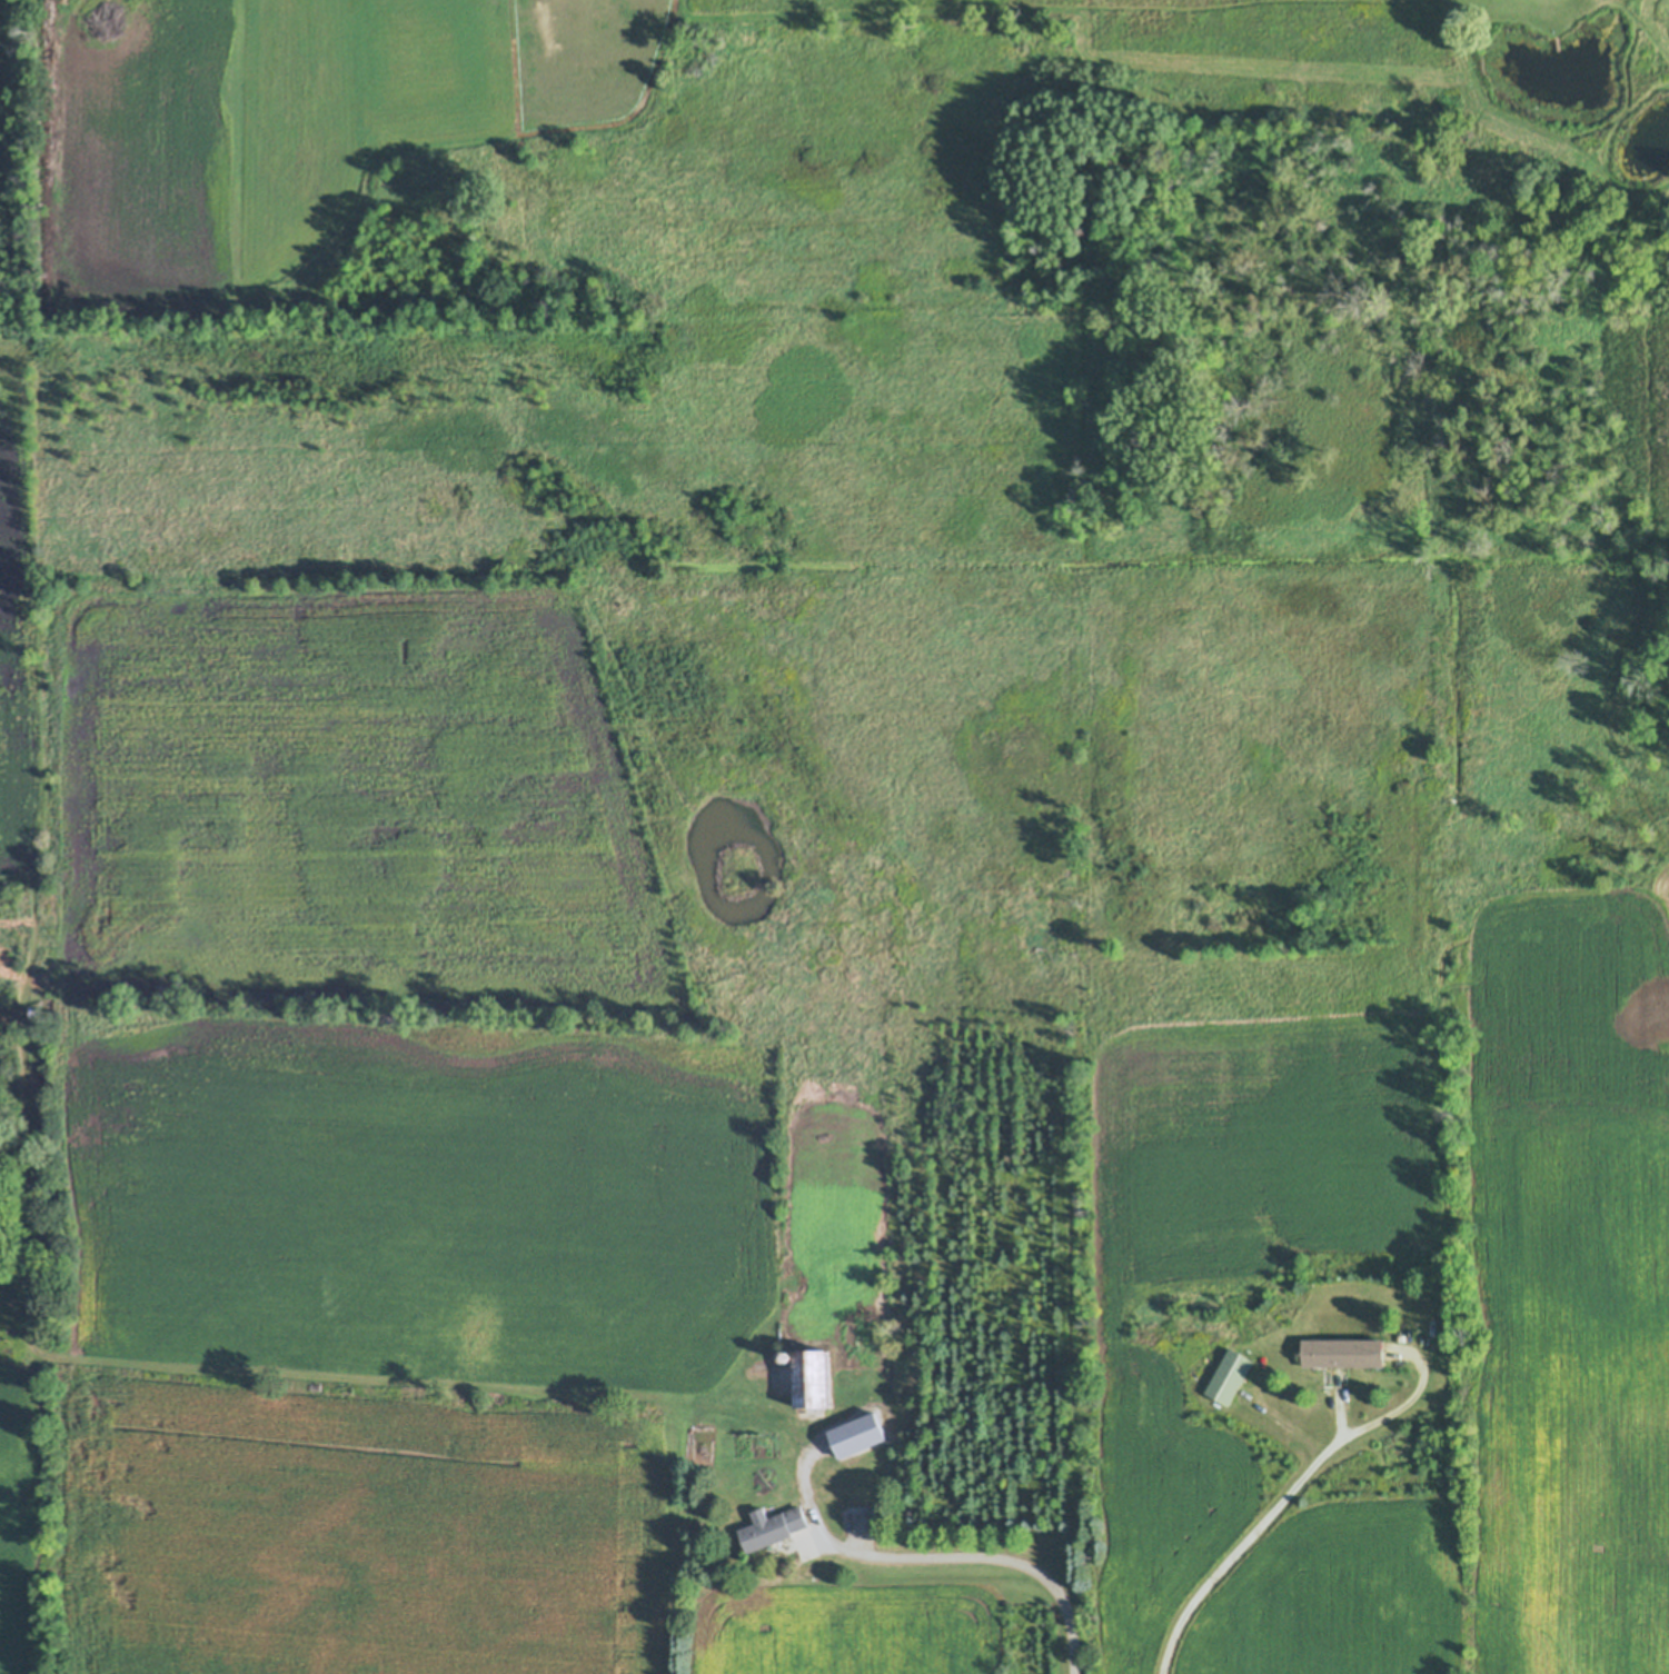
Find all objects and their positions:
building: (1557, 41)
building: (617, 571)
building: (1451, 799)
building: (36, 1008)
building: (2, 1285)
building: (1344, 1353)
building: (788, 1356)
building: (1231, 1377)
building: (817, 1381)
building: (857, 1438)
building: (702, 1449)
building: (773, 1527)
road: (1249, 1545)
road: (980, 1557)

